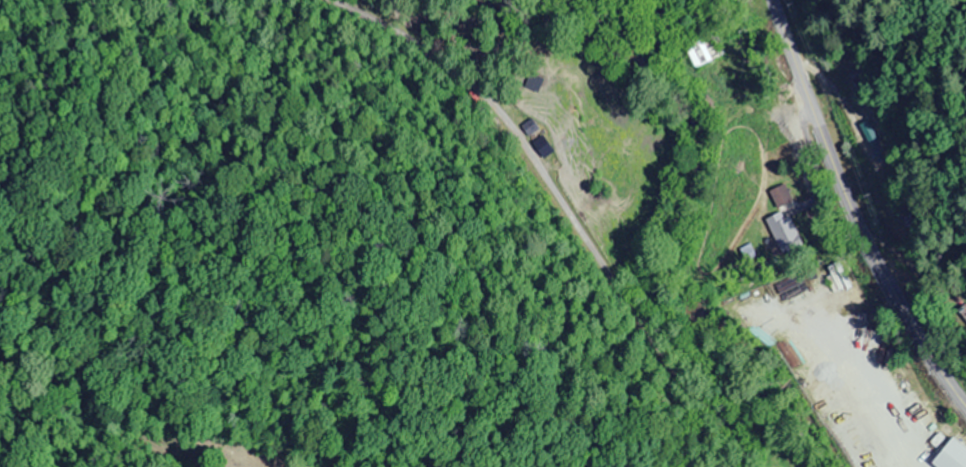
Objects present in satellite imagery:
building: (680, 20)
building: (696, 51)
building: (533, 81)
building: (869, 136)
building: (779, 194)
road: (852, 210)
building: (781, 231)
building: (612, 237)
building: (962, 311)
building: (949, 455)

